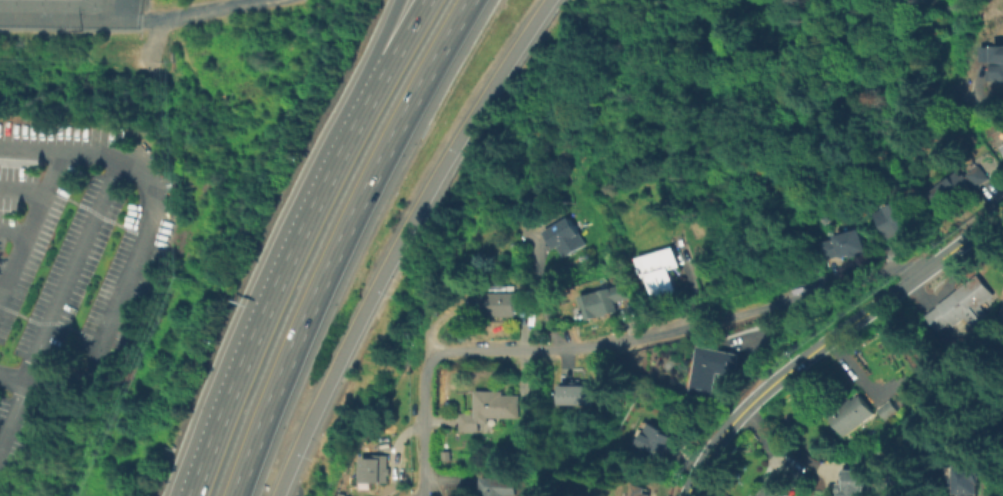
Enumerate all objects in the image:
road: (234, 8)
power substation: (69, 13)
road: (383, 50)
road: (398, 52)
building: (997, 65)
building: (1002, 146)
road: (982, 151)
road: (49, 169)
building: (981, 177)
building: (950, 194)
building: (899, 217)
road: (27, 220)
road: (11, 229)
road: (140, 234)
road: (397, 240)
building: (567, 240)
road: (338, 241)
building: (846, 245)
road: (68, 269)
building: (660, 273)
road: (269, 295)
road: (538, 296)
building: (607, 302)
building: (964, 306)
building: (504, 309)
road: (678, 330)
road: (828, 340)
building: (715, 368)
road: (9, 381)
building: (576, 396)
building: (493, 408)
building: (889, 411)
road: (9, 413)
building: (854, 416)
road: (423, 427)
building: (662, 441)
road: (784, 444)
building: (376, 470)
building: (971, 481)
building: (779, 483)
building: (861, 484)
building: (503, 489)
building: (645, 490)

